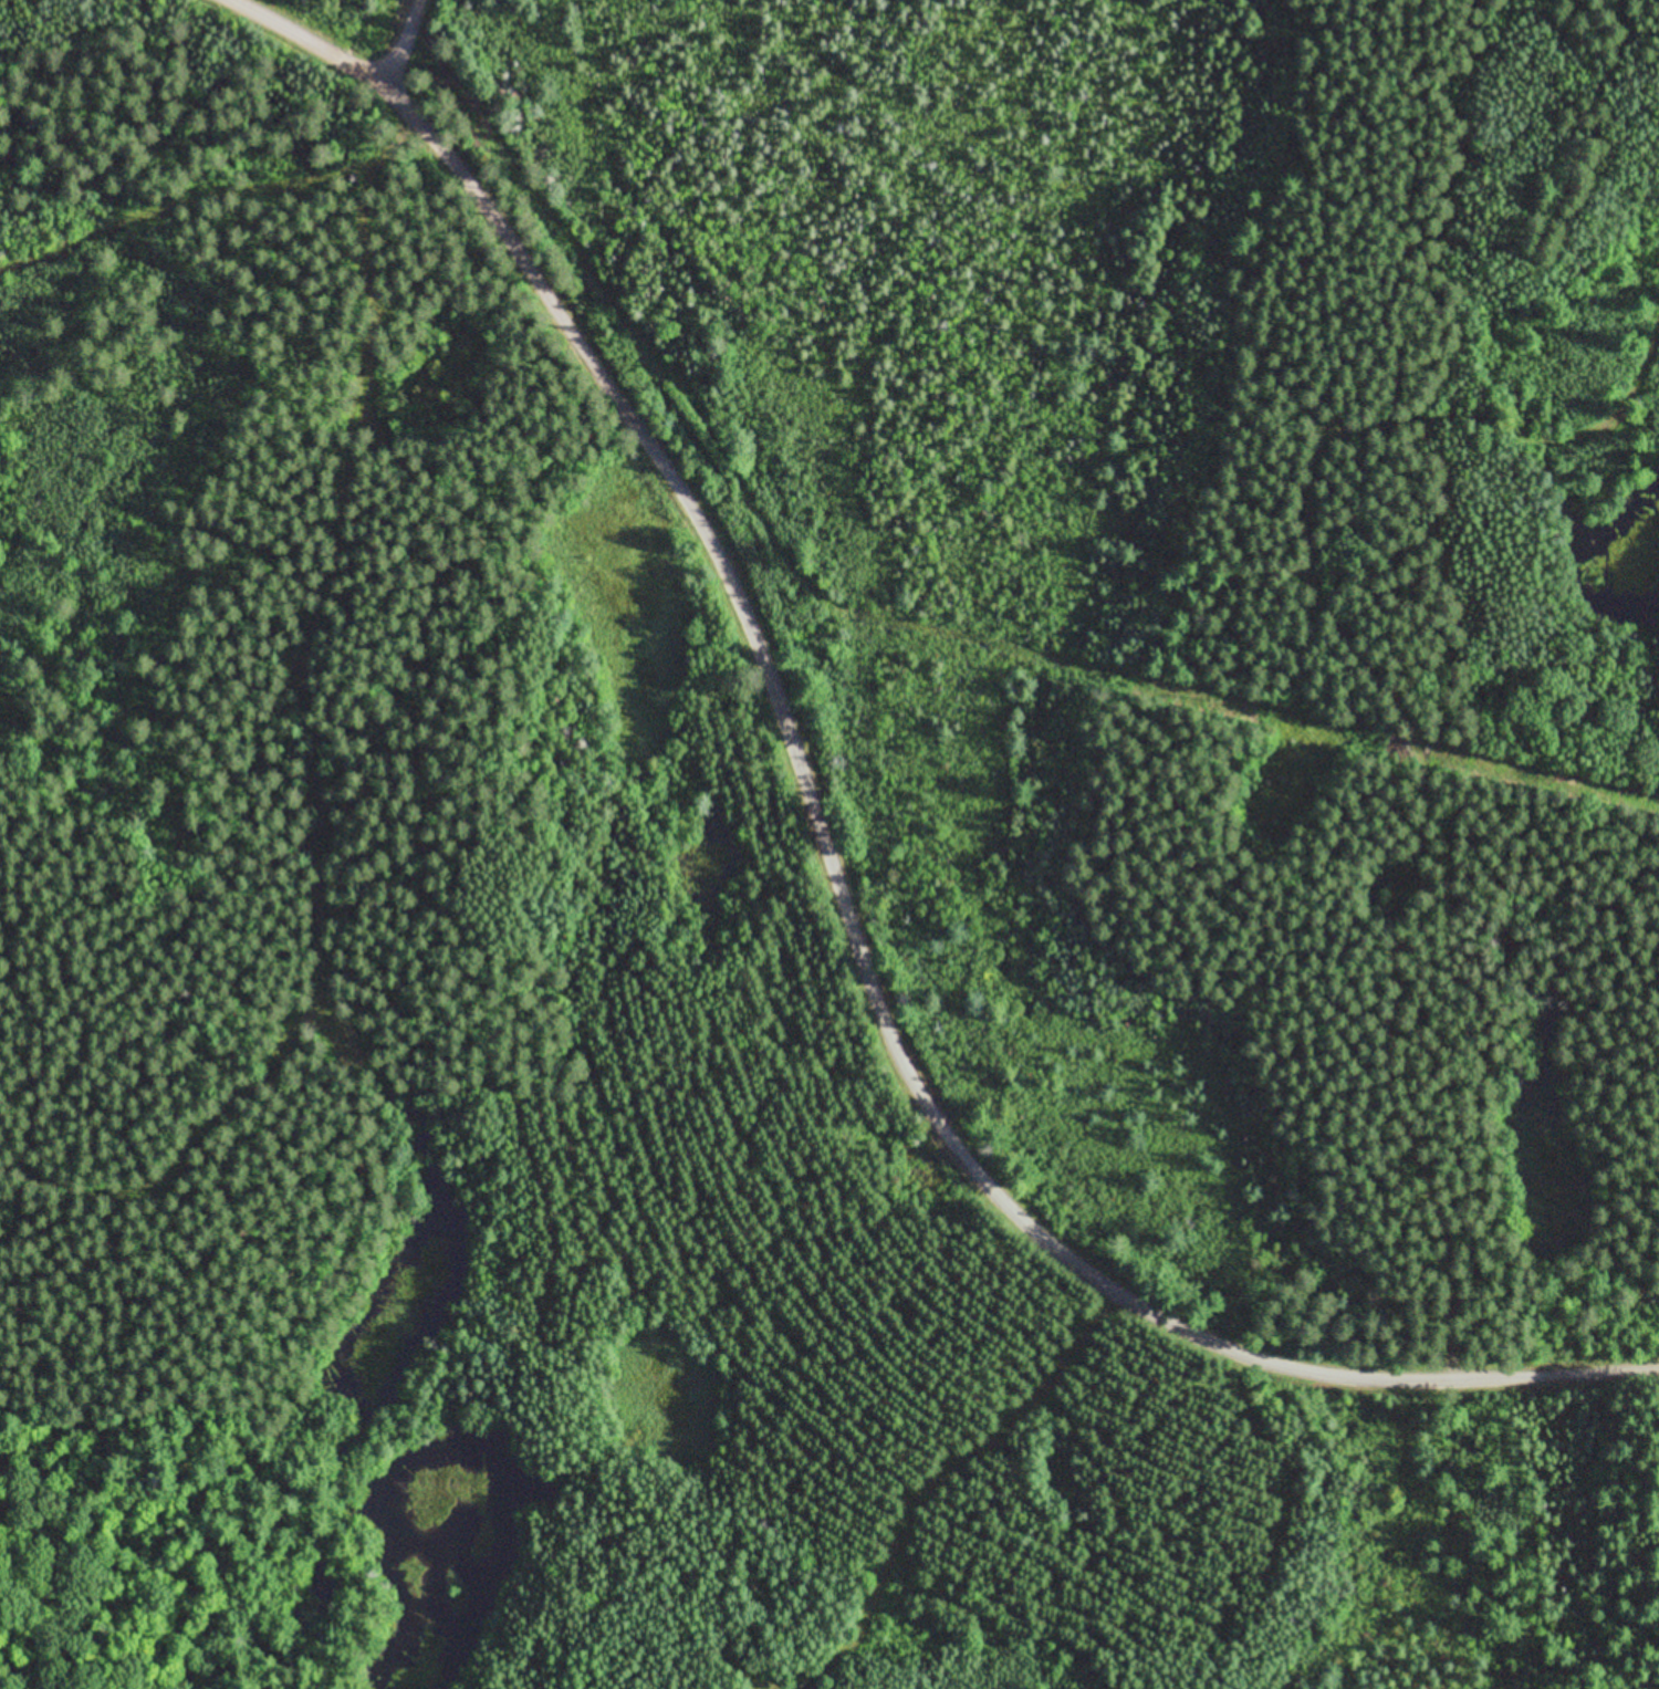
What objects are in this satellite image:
road: (314, 45)
road: (401, 45)
road: (865, 948)

